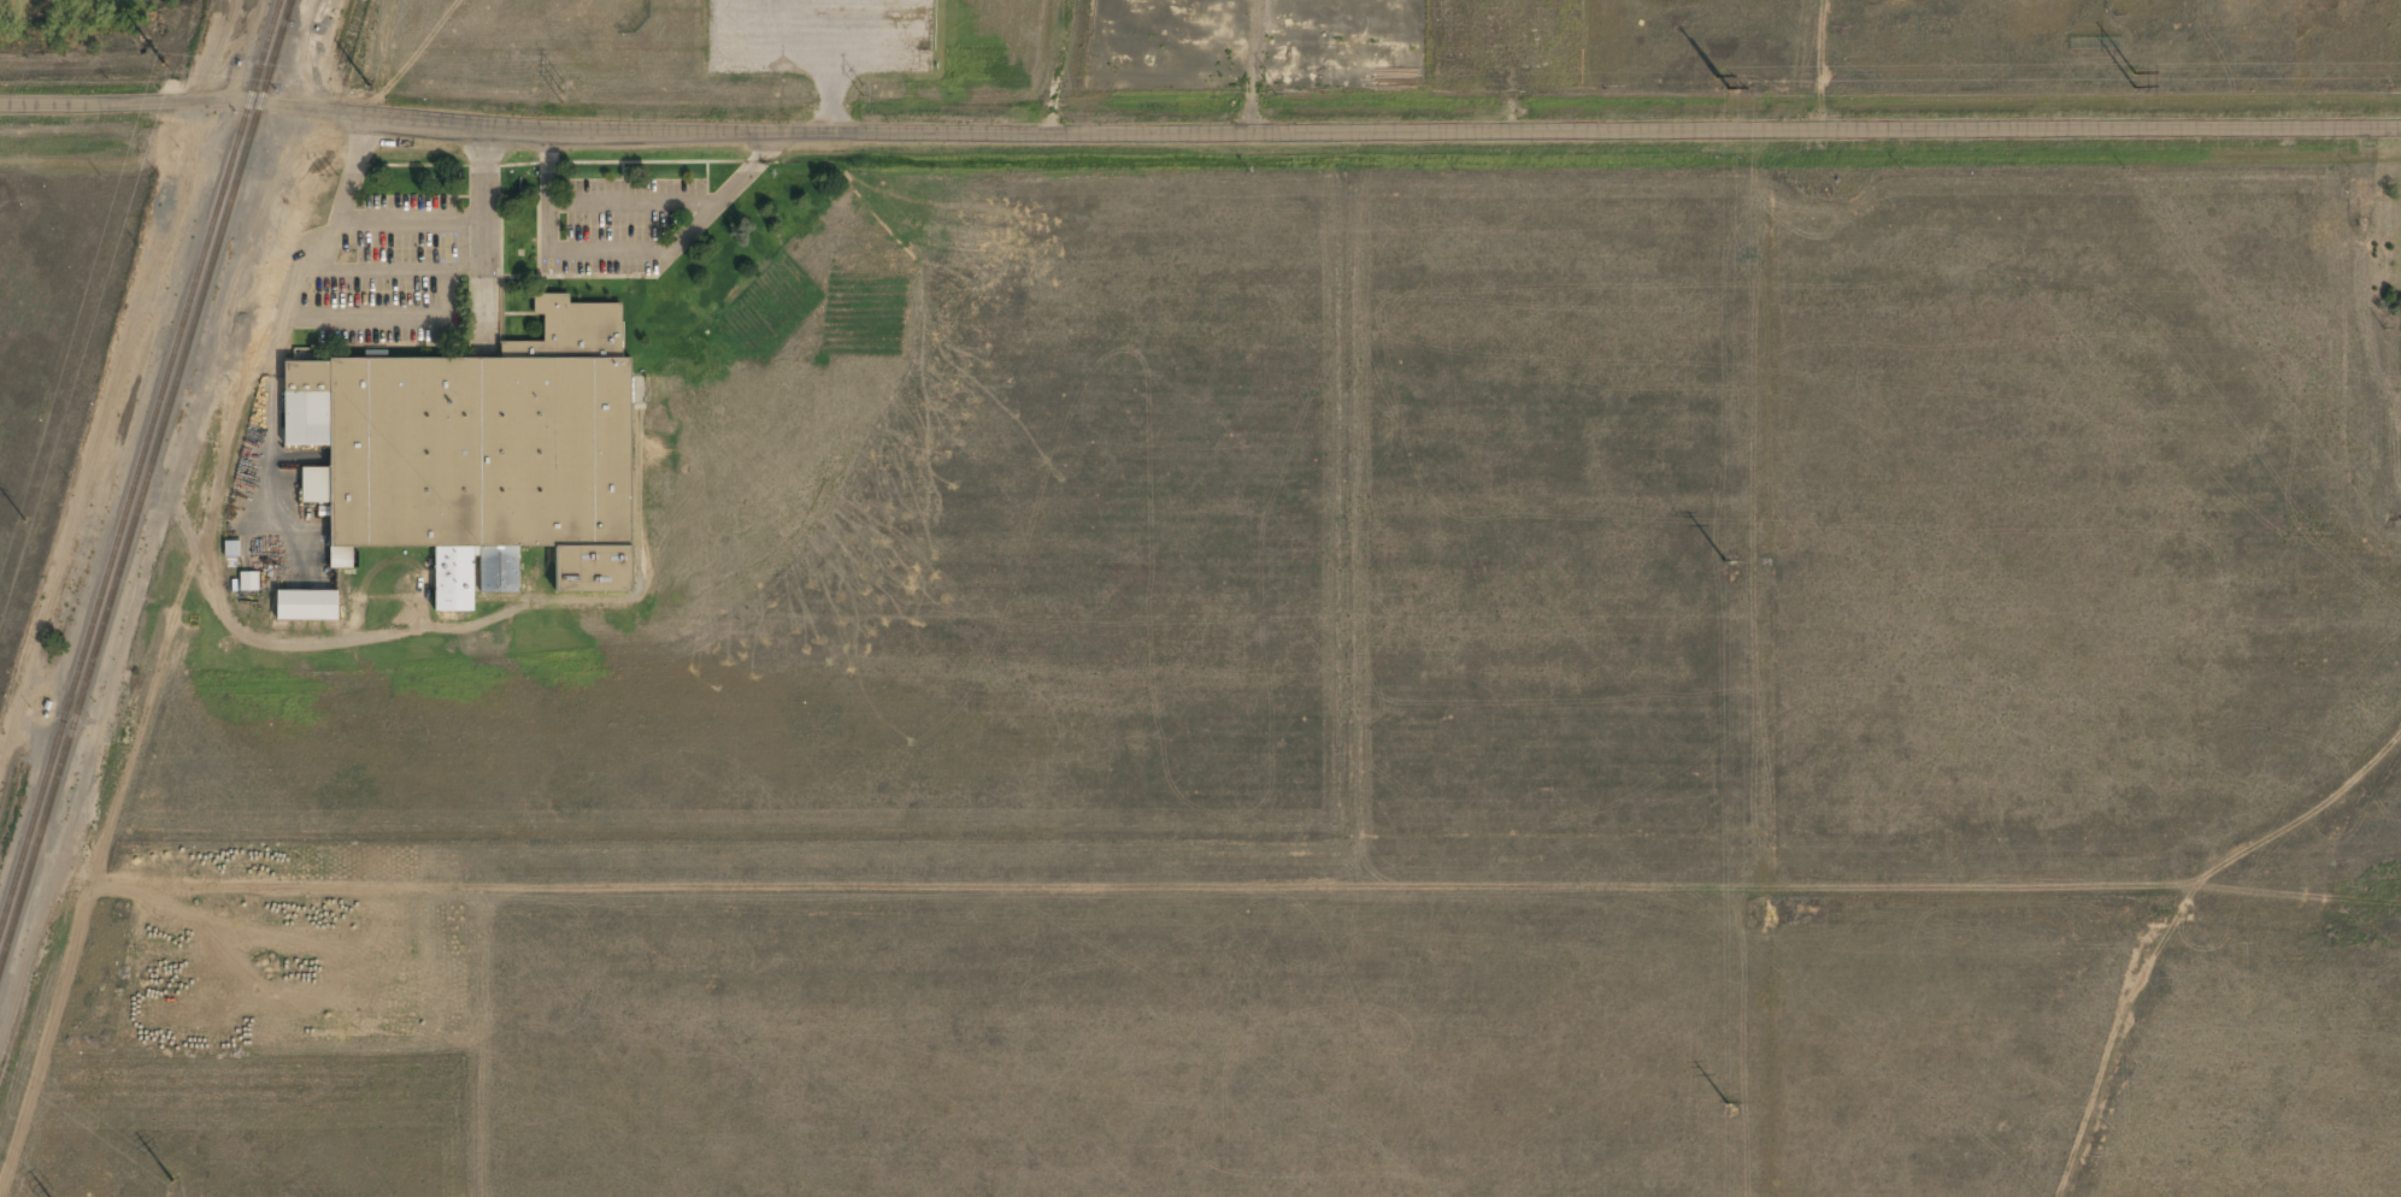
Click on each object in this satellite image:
power tower: (163, 63)
power tower: (2136, 81)
power tower: (1722, 84)
power tower: (370, 88)
power tower: (860, 90)
power tower: (1275, 90)
power tower: (559, 92)
road: (1200, 130)
building: (467, 423)
railway: (140, 468)
building: (314, 485)
railway: (146, 490)
power tower: (25, 523)
building: (233, 548)
building: (341, 558)
power tower: (1725, 561)
building: (593, 570)
building: (472, 576)
building: (249, 582)
building: (307, 606)
power tower: (1728, 1105)
power tower: (173, 1180)

